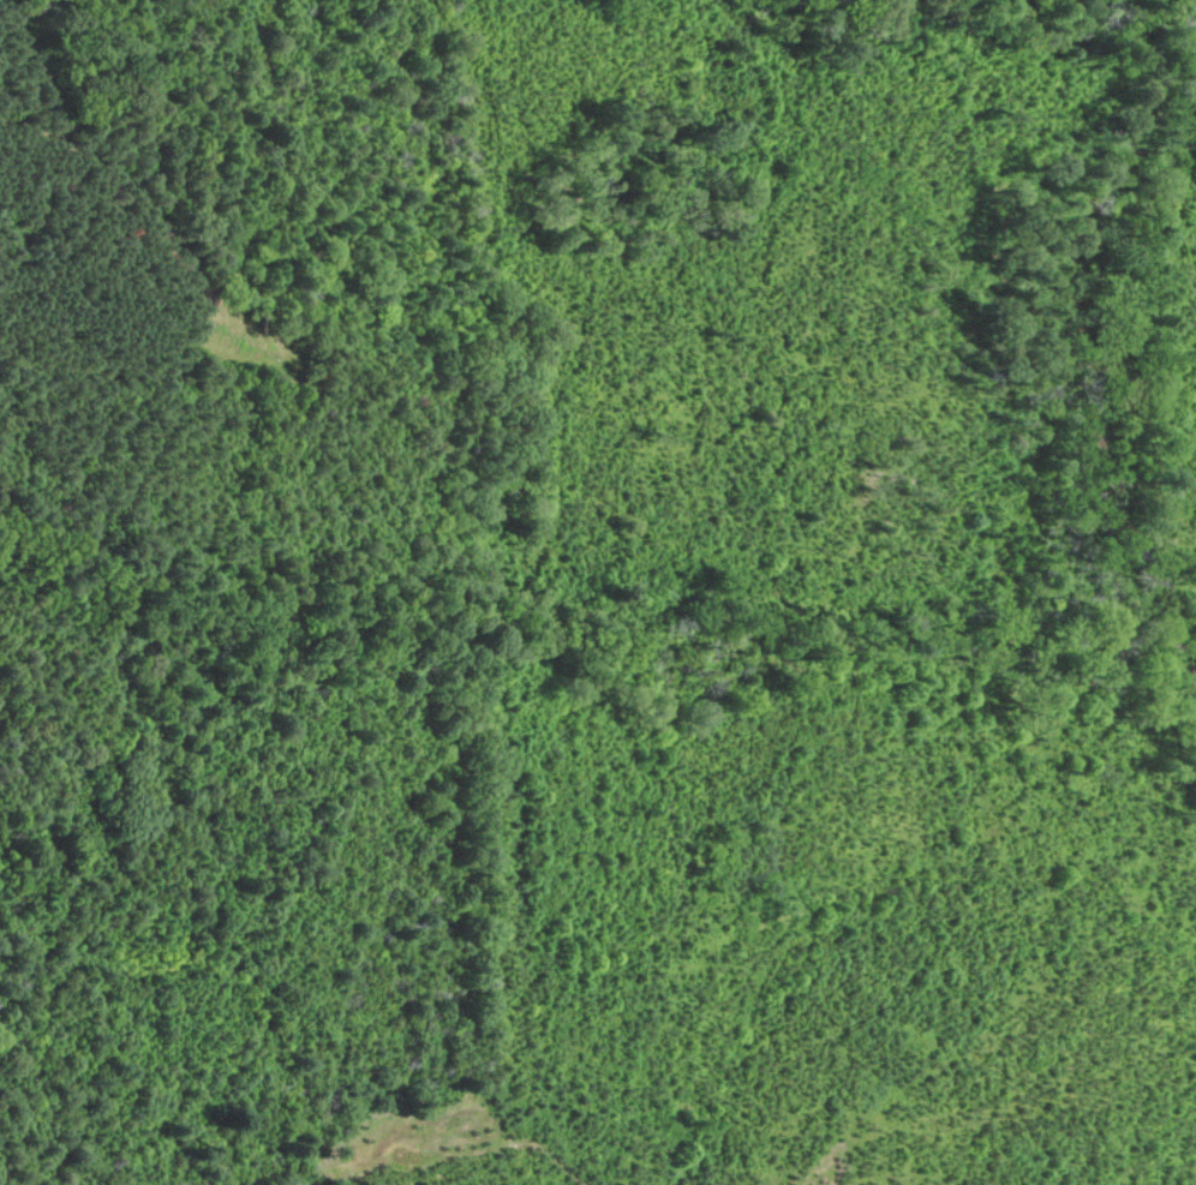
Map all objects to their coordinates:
road: (211, 861)
road: (65, 915)

